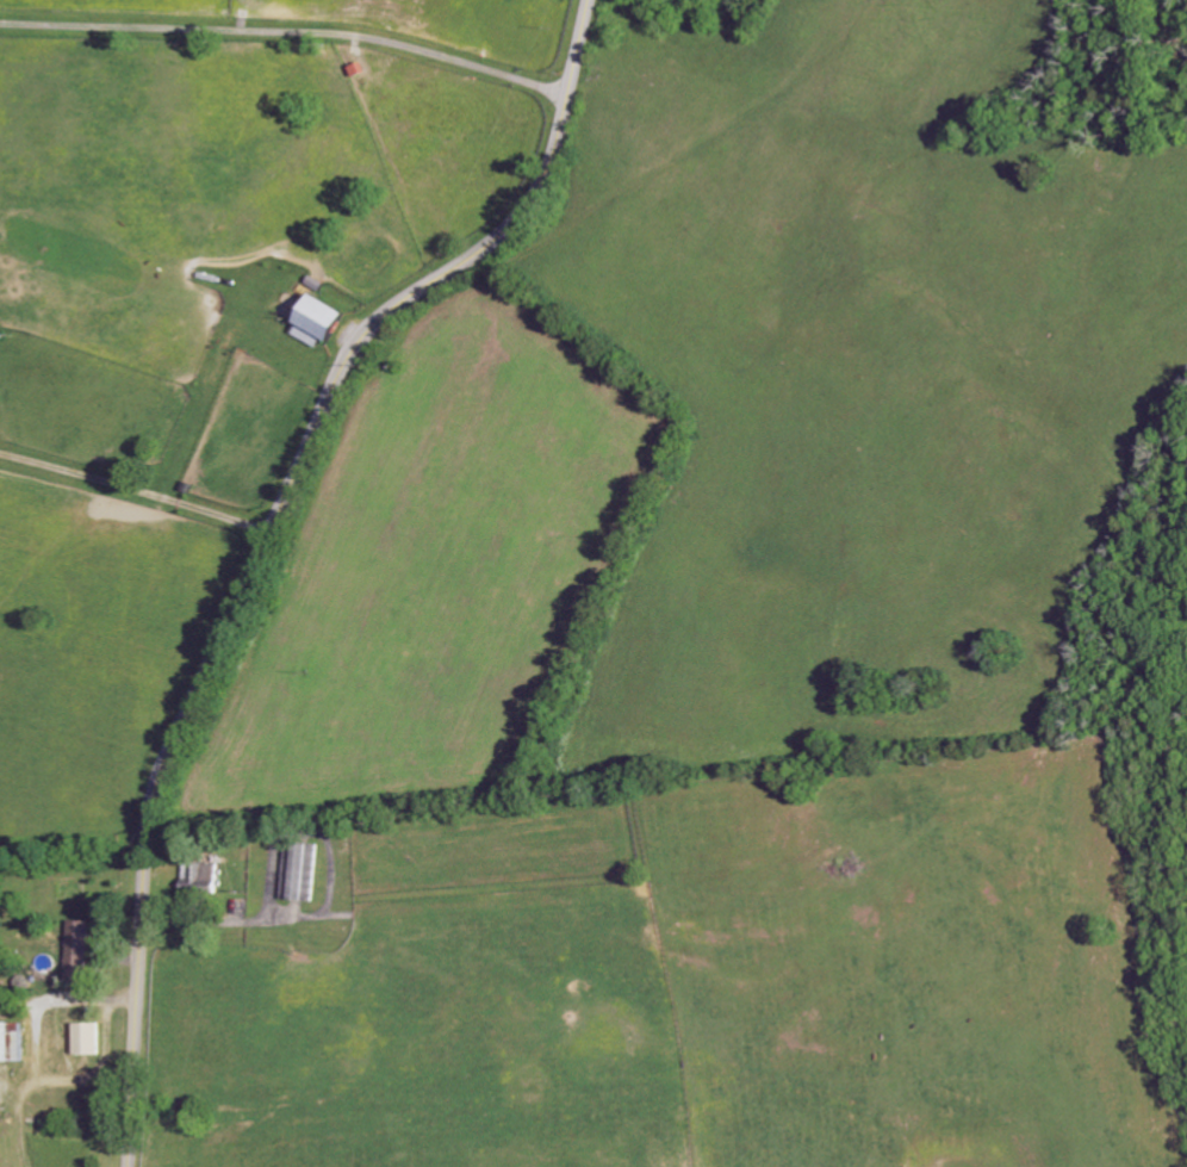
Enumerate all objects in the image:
road: (290, 31)
building: (321, 321)
road: (137, 486)
road: (268, 540)
building: (300, 871)
building: (204, 877)
road: (215, 920)
building: (80, 951)
building: (88, 1039)
building: (13, 1043)

